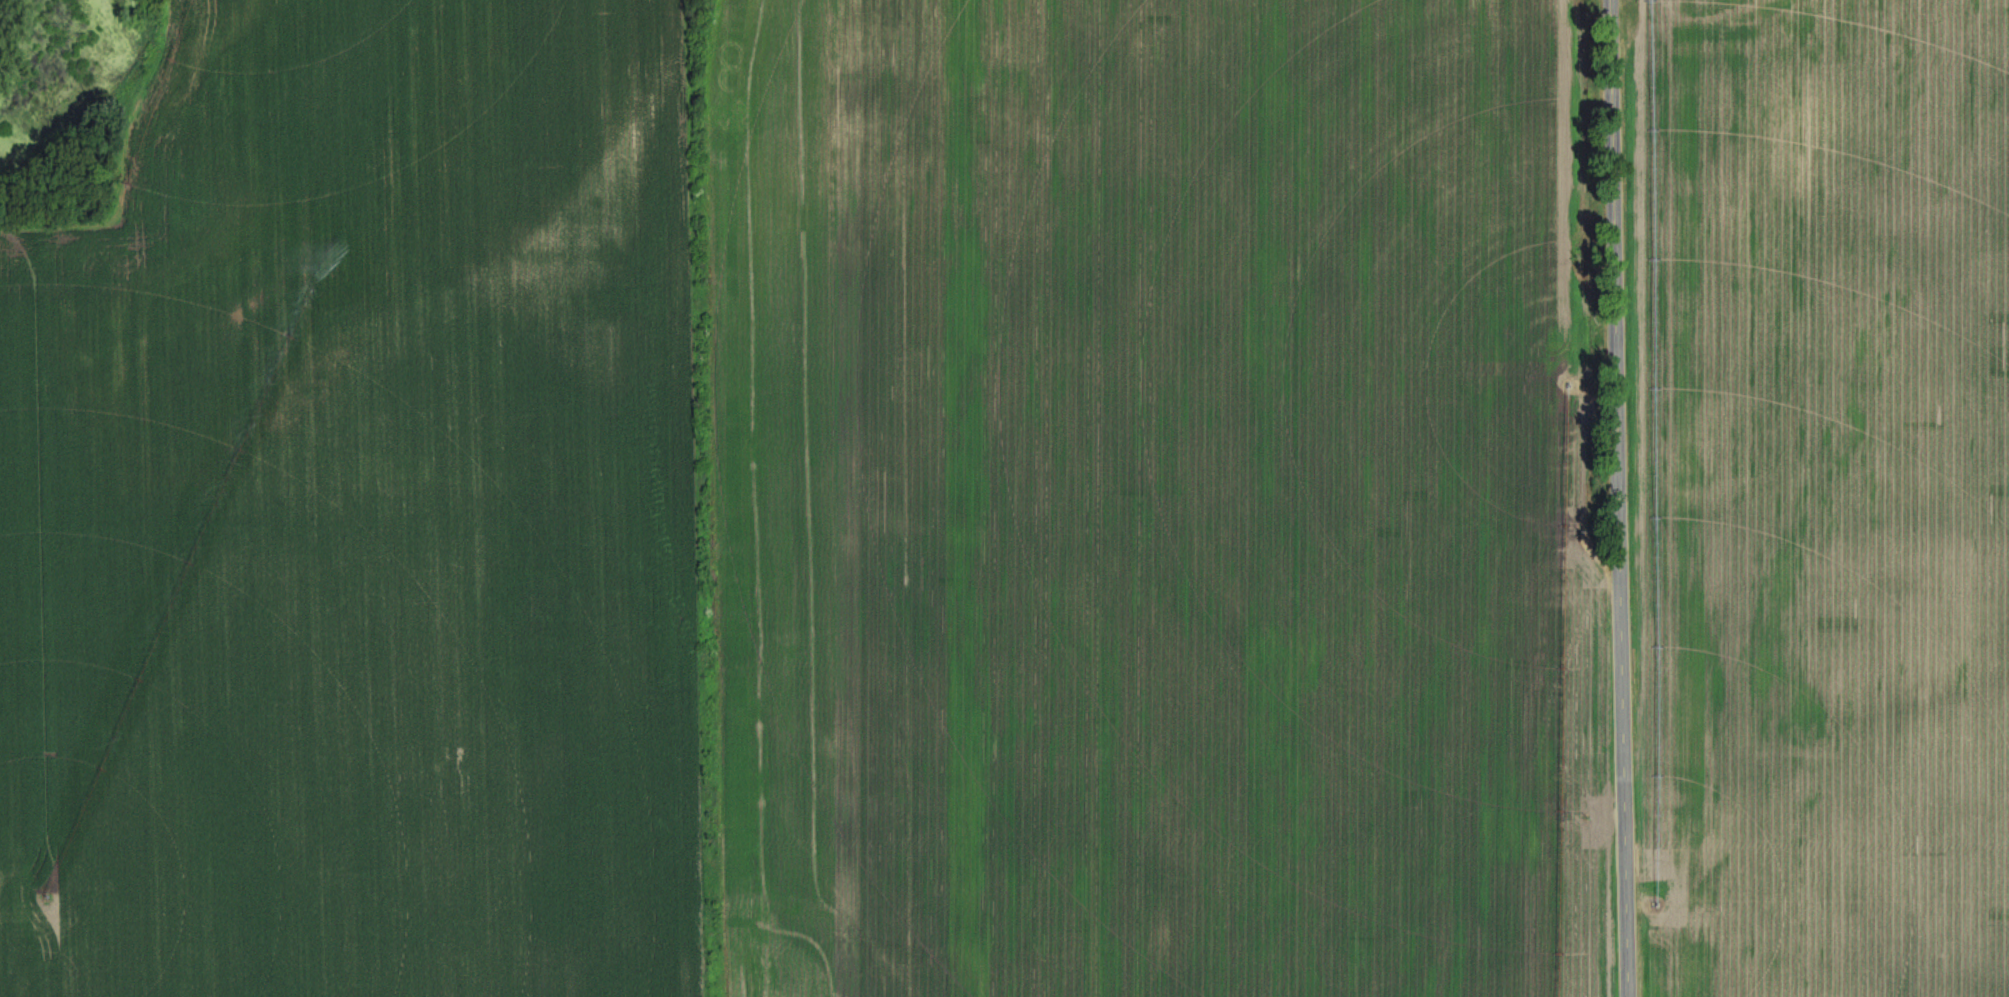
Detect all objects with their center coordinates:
crop: (1829, 495)
road: (1619, 498)
crop: (1159, 500)
crop: (372, 518)

